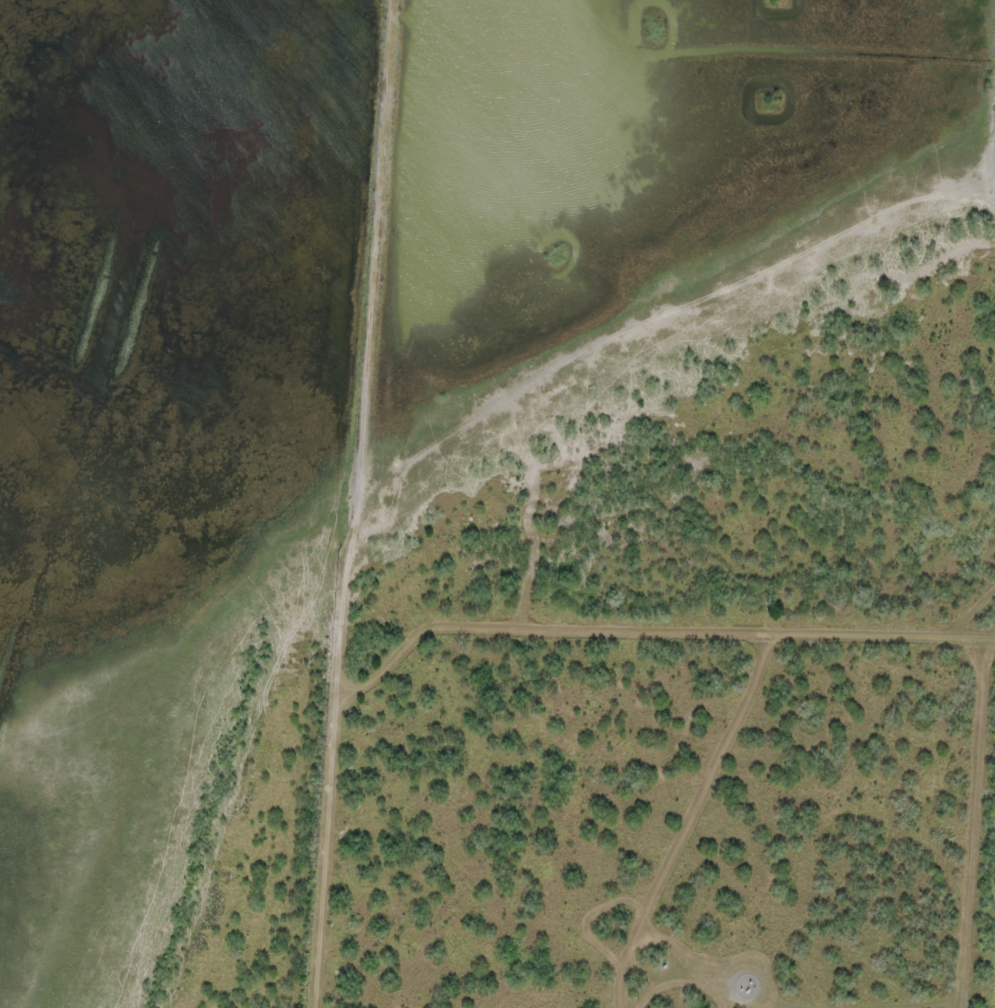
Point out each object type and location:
road: (462, 440)

